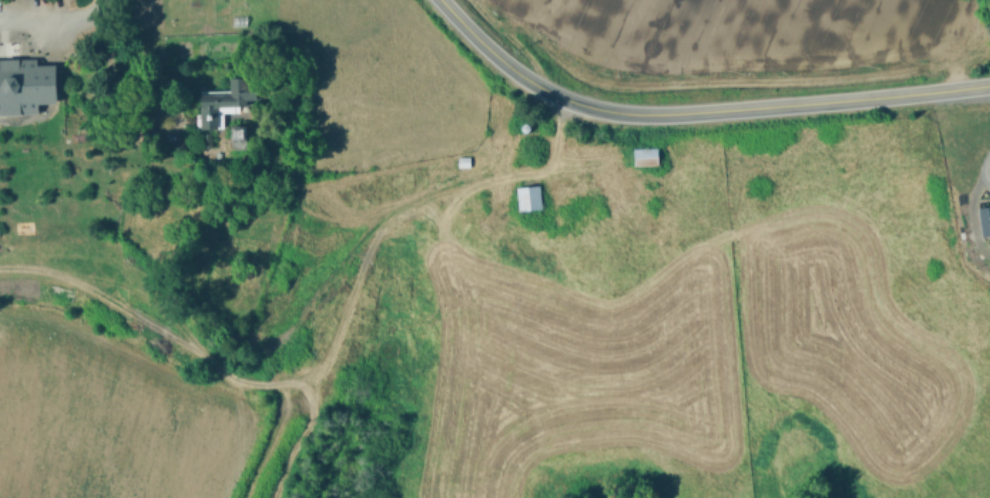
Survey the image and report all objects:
road: (32, 8)
road: (52, 16)
crop: (736, 40)
road: (107, 75)
building: (21, 80)
building: (221, 106)
road: (697, 111)
building: (238, 133)
building: (644, 156)
building: (510, 200)
road: (971, 201)
building: (984, 218)
crop: (197, 223)
crop: (709, 272)

